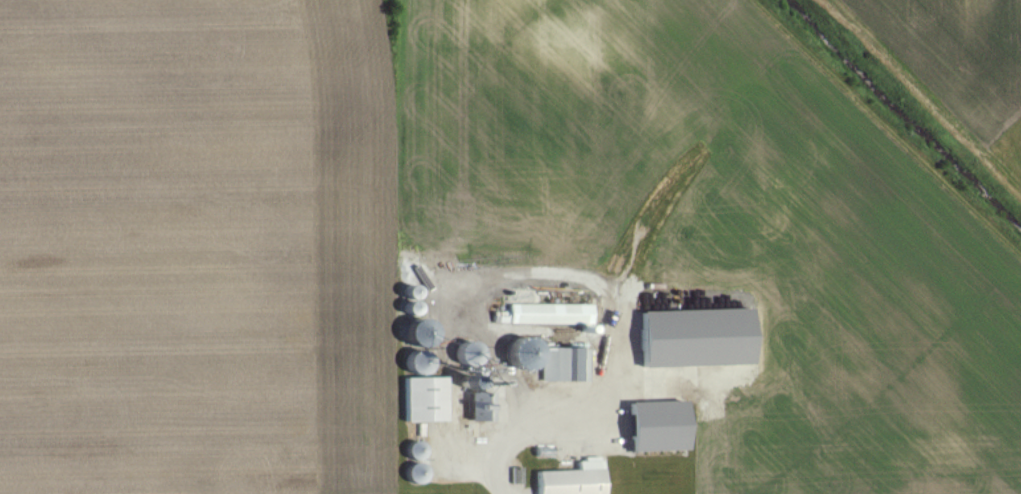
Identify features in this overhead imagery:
building: (549, 314)
building: (693, 338)
building: (549, 361)
road: (579, 397)
building: (572, 479)

